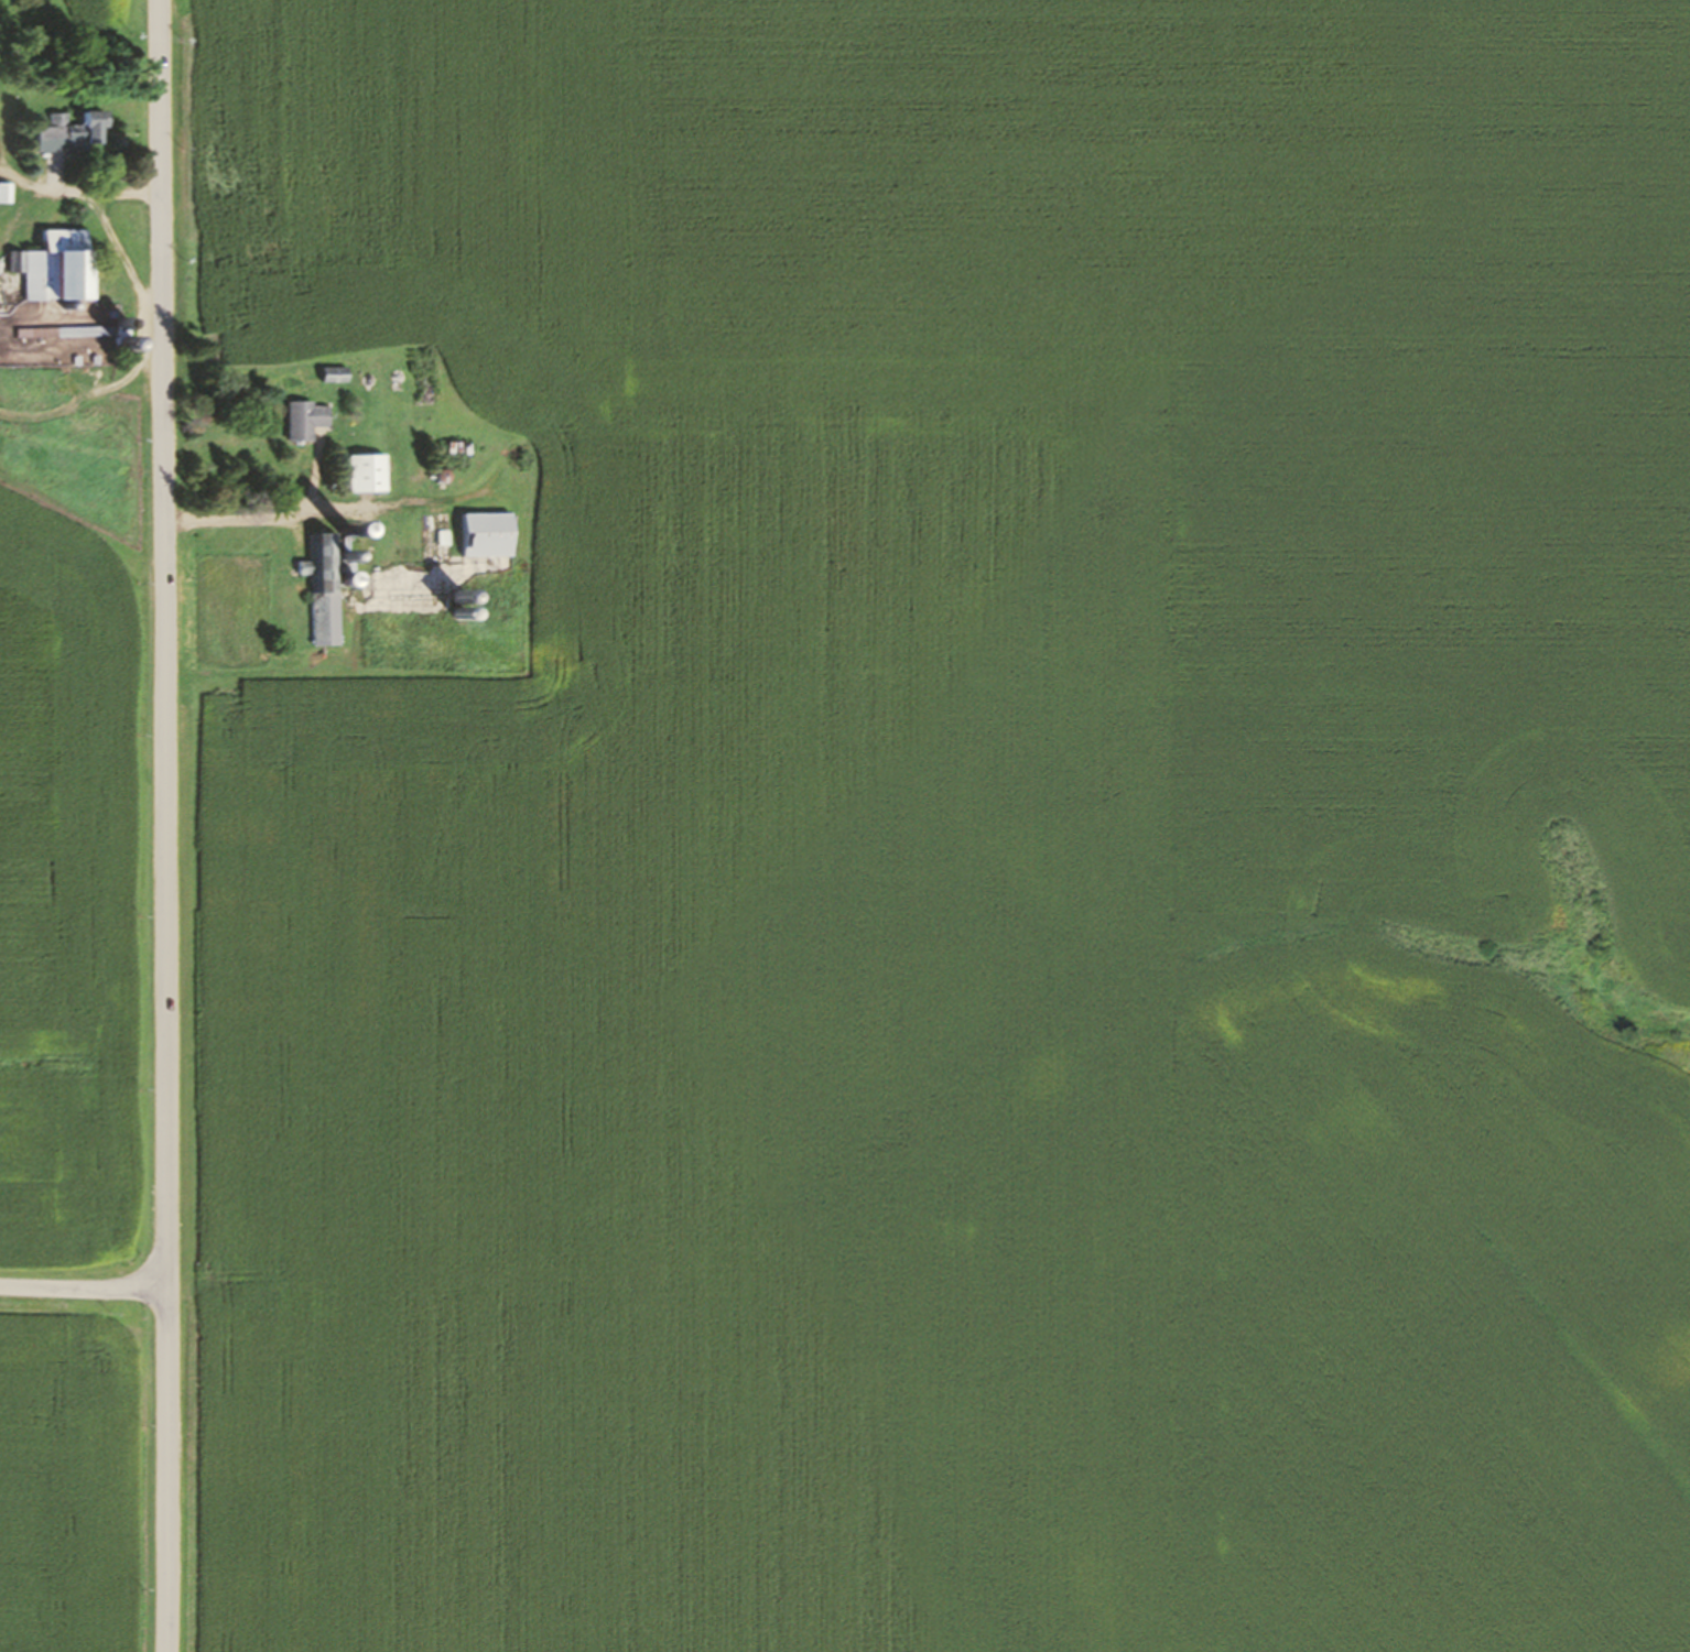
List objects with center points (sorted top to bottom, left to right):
building: (69, 132)
building: (4, 193)
building: (54, 267)
building: (333, 373)
building: (423, 388)
building: (304, 419)
building: (366, 472)
building: (485, 534)
building: (321, 588)
road: (166, 826)
road: (84, 1291)

